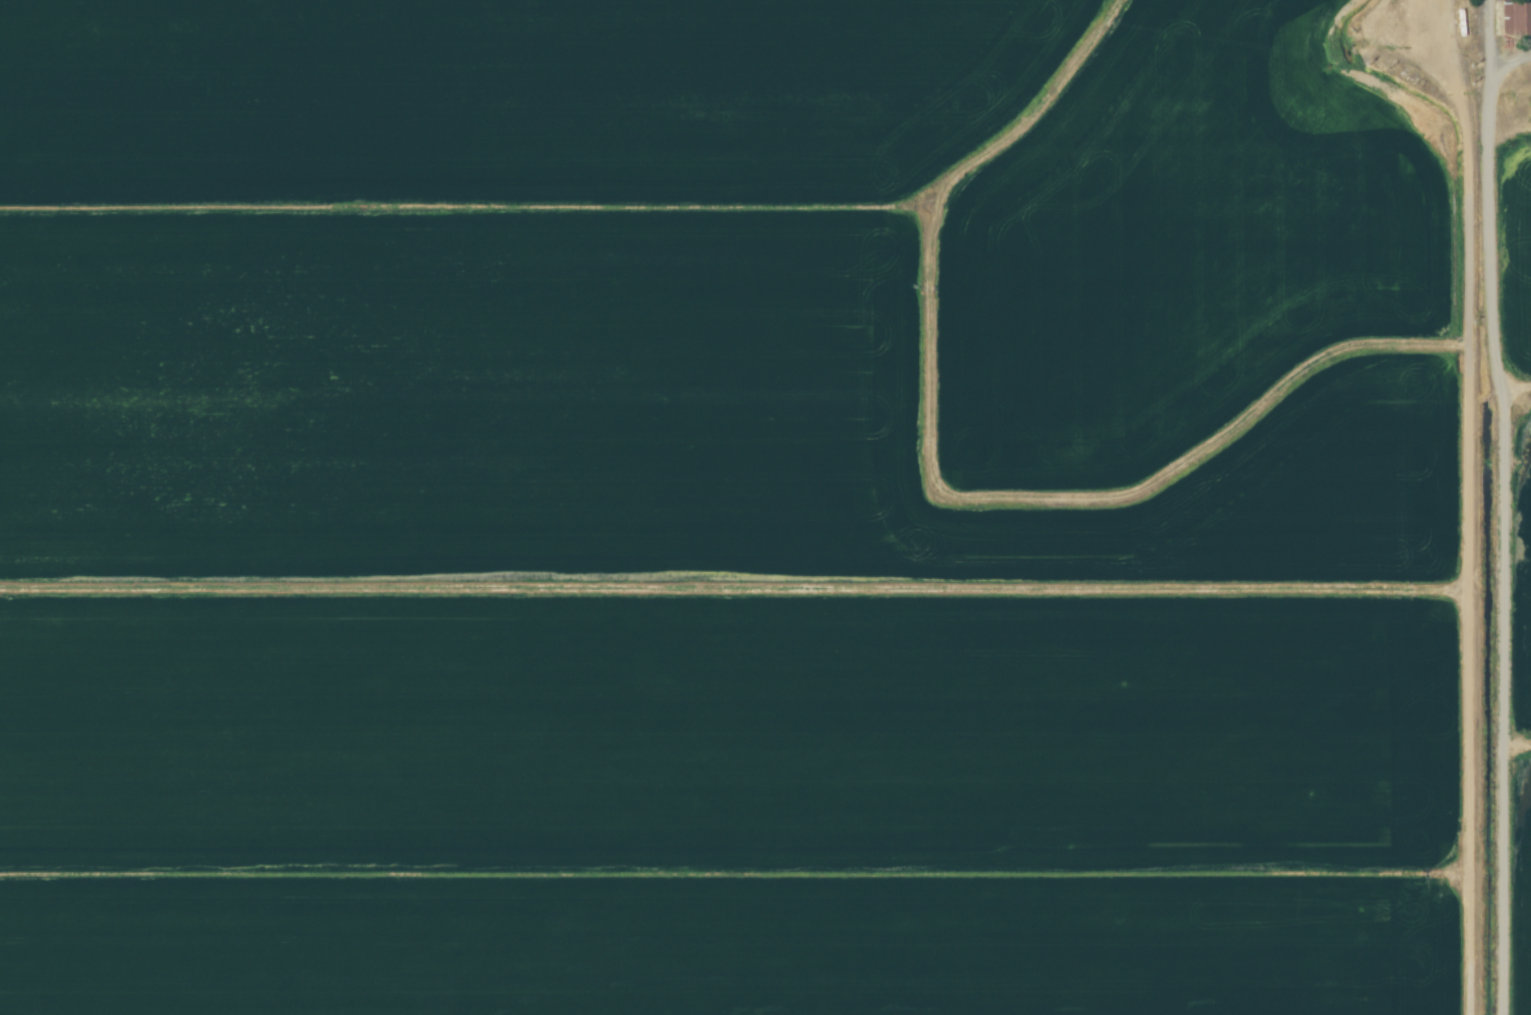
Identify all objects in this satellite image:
building: (1516, 17)
road: (1510, 543)

